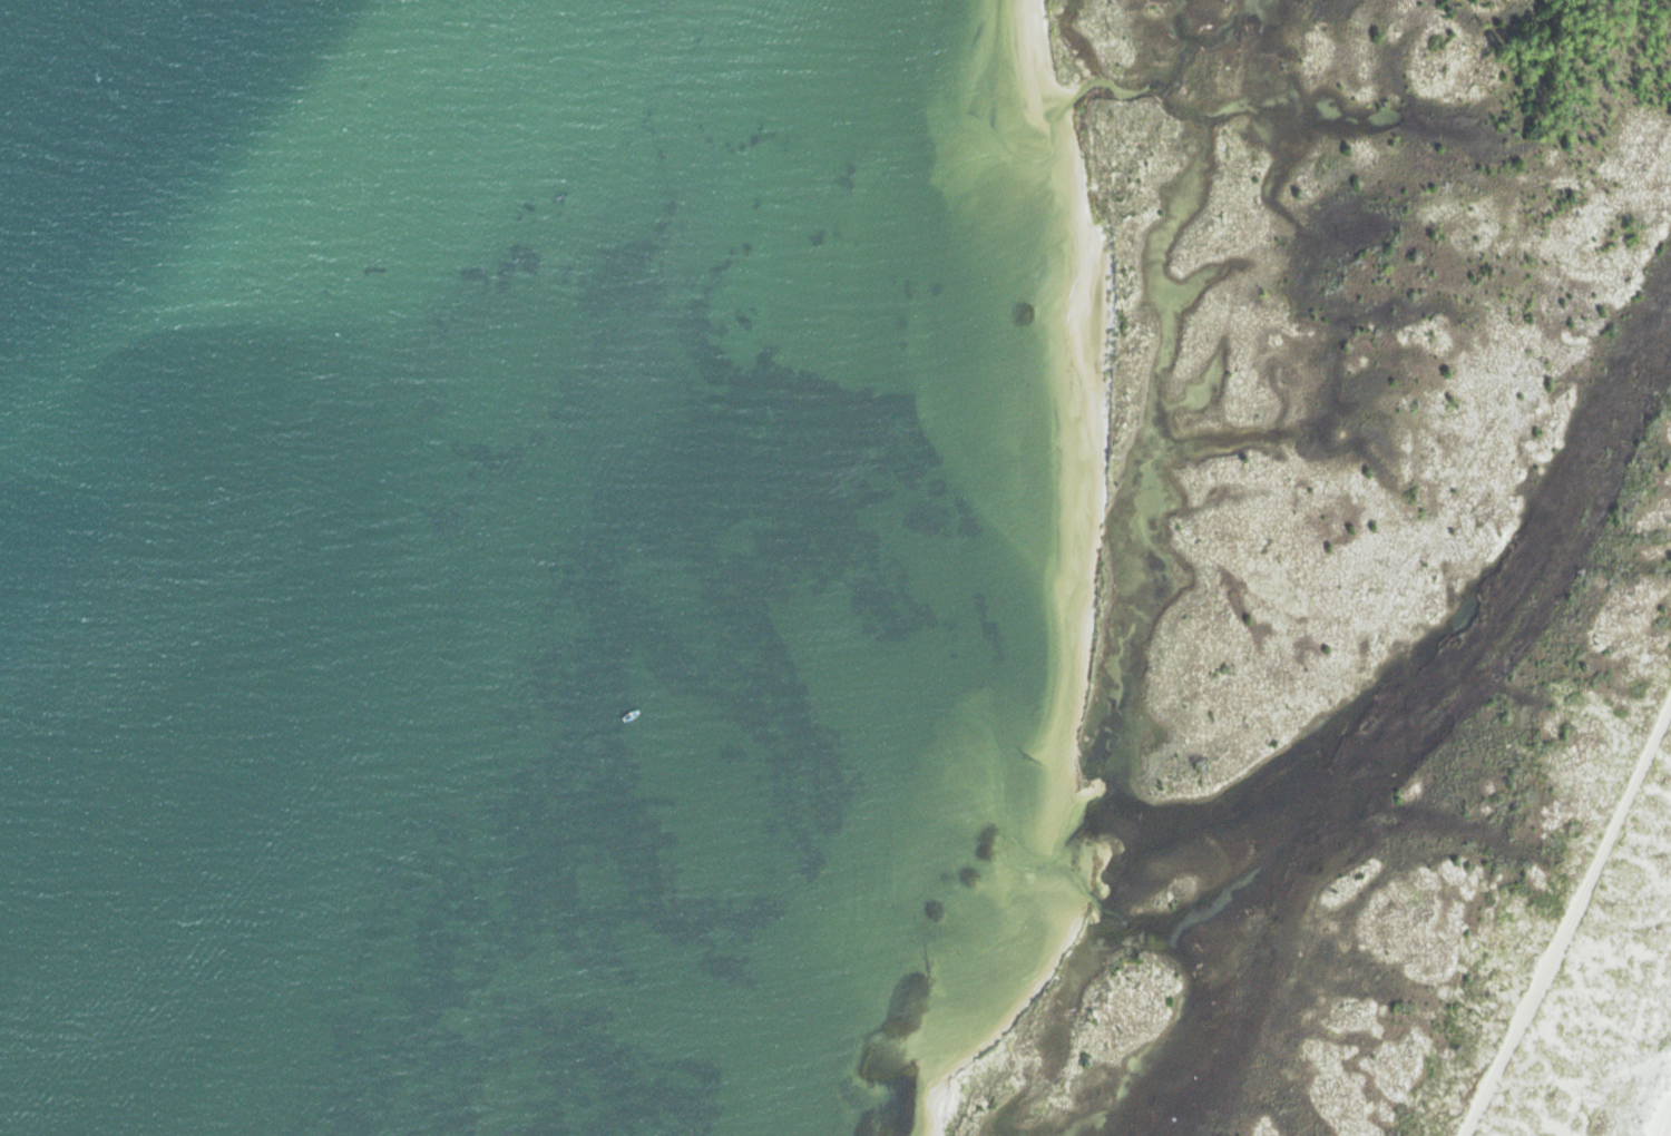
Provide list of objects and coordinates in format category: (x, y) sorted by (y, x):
road: (1572, 920)

